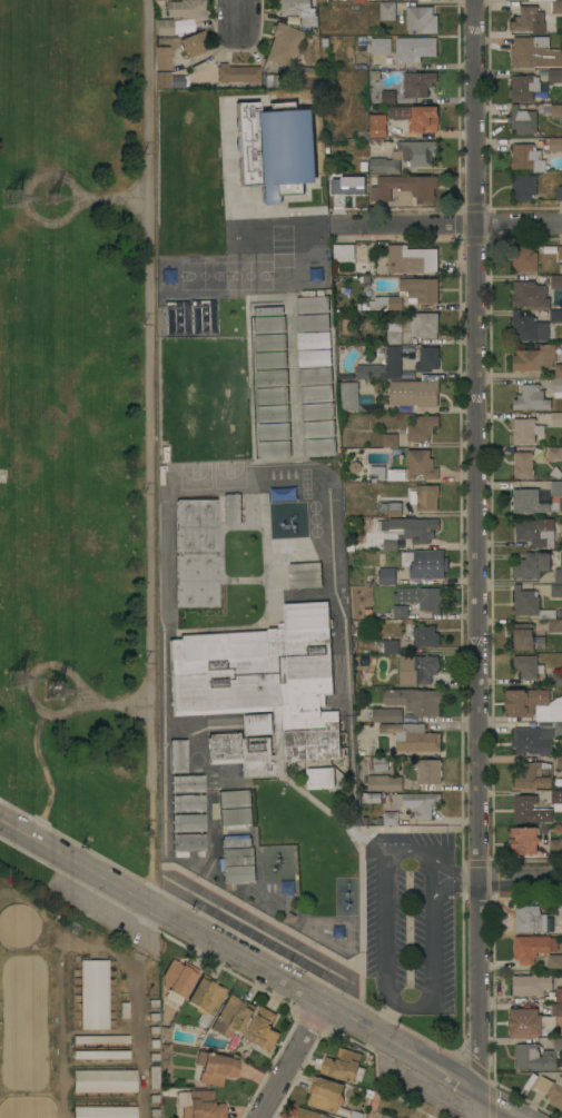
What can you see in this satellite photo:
building: (321, 0)
building: (390, 0)
building: (555, 7)
building: (185, 9)
building: (298, 11)
building: (387, 11)
road: (238, 13)
building: (421, 19)
building: (529, 20)
building: (181, 26)
building: (164, 27)
building: (195, 43)
building: (285, 44)
building: (381, 44)
building: (414, 48)
building: (534, 52)
building: (162, 67)
building: (237, 76)
building: (554, 76)
building: (310, 77)
building: (274, 81)
building: (417, 83)
building: (524, 87)
building: (388, 97)
building: (555, 110)
building: (416, 117)
building: (522, 120)
building: (377, 129)
building: (554, 145)
building: (283, 151)
building: (405, 156)
building: (526, 158)
road: (47, 176)
building: (403, 187)
building: (524, 187)
building: (560, 192)
power tower: (56, 198)
power tower: (22, 204)
road: (450, 221)
building: (343, 253)
building: (560, 253)
building: (524, 258)
building: (411, 259)
park: (203, 275)
park: (248, 275)
building: (555, 281)
building: (420, 290)
building: (529, 294)
building: (388, 301)
building: (312, 304)
building: (267, 310)
building: (555, 316)
building: (188, 317)
building: (313, 323)
building: (268, 325)
building: (423, 325)
building: (531, 328)
building: (365, 329)
building: (393, 333)
building: (314, 340)
building: (269, 343)
building: (314, 358)
building: (534, 358)
building: (427, 359)
building: (270, 360)
building: (386, 365)
building: (315, 376)
building: (272, 378)
building: (558, 380)
building: (414, 393)
building: (315, 394)
road: (148, 395)
building: (272, 395)
building: (349, 396)
building: (531, 398)
building: (317, 412)
building: (273, 414)
building: (556, 419)
park: (79, 423)
building: (422, 427)
building: (318, 429)
building: (526, 431)
building: (274, 432)
building: (390, 441)
building: (319, 447)
building: (274, 449)
building: (554, 453)
building: (421, 464)
building: (522, 464)
building: (377, 473)
park: (228, 474)
park: (195, 476)
building: (556, 488)
road: (225, 491)
building: (426, 497)
building: (531, 502)
building: (231, 508)
building: (394, 509)
building: (415, 528)
building: (536, 532)
building: (391, 543)
road: (475, 544)
building: (196, 553)
building: (425, 563)
building: (532, 565)
building: (558, 574)
building: (305, 575)
building: (386, 576)
building: (556, 591)
building: (420, 597)
building: (530, 604)
building: (401, 612)
building: (554, 625)
building: (425, 636)
building: (528, 640)
building: (385, 646)
building: (528, 665)
road: (56, 666)
building: (421, 670)
building: (556, 679)
power tower: (19, 682)
building: (262, 689)
power tower: (58, 691)
building: (414, 700)
building: (523, 702)
building: (554, 710)
building: (387, 715)
building: (258, 724)
building: (559, 728)
building: (412, 736)
building: (532, 741)
building: (178, 755)
building: (558, 762)
building: (381, 763)
building: (428, 772)
road: (205, 773)
building: (534, 775)
building: (321, 779)
building: (187, 783)
building: (384, 783)
building: (235, 799)
building: (556, 800)
building: (187, 803)
building: (417, 803)
building: (530, 810)
building: (235, 817)
building: (390, 818)
building: (188, 823)
road: (149, 838)
building: (524, 840)
building: (235, 842)
building: (188, 844)
building: (555, 845)
building: (237, 857)
road: (453, 871)
building: (237, 874)
road: (432, 874)
road: (520, 879)
road: (454, 884)
road: (165, 893)
road: (385, 902)
building: (561, 913)
parking lot: (410, 919)
building: (530, 919)
road: (267, 934)
building: (533, 947)
building: (554, 960)
road: (260, 966)
road: (432, 968)
building: (176, 981)
building: (531, 985)
building: (93, 993)
building: (559, 995)
building: (205, 998)
building: (152, 1003)
building: (152, 1017)
building: (231, 1017)
road: (386, 1018)
building: (534, 1020)
building: (152, 1029)
building: (263, 1030)
building: (101, 1039)
building: (154, 1042)
building: (100, 1055)
building: (539, 1056)
road: (290, 1059)
building: (342, 1065)
building: (215, 1067)
building: (105, 1080)
building: (551, 1090)
building: (325, 1094)
building: (154, 1098)
building: (203, 1106)
building: (103, 1111)
building: (155, 1112)
building: (308, 1114)
building: (385, 1117)

